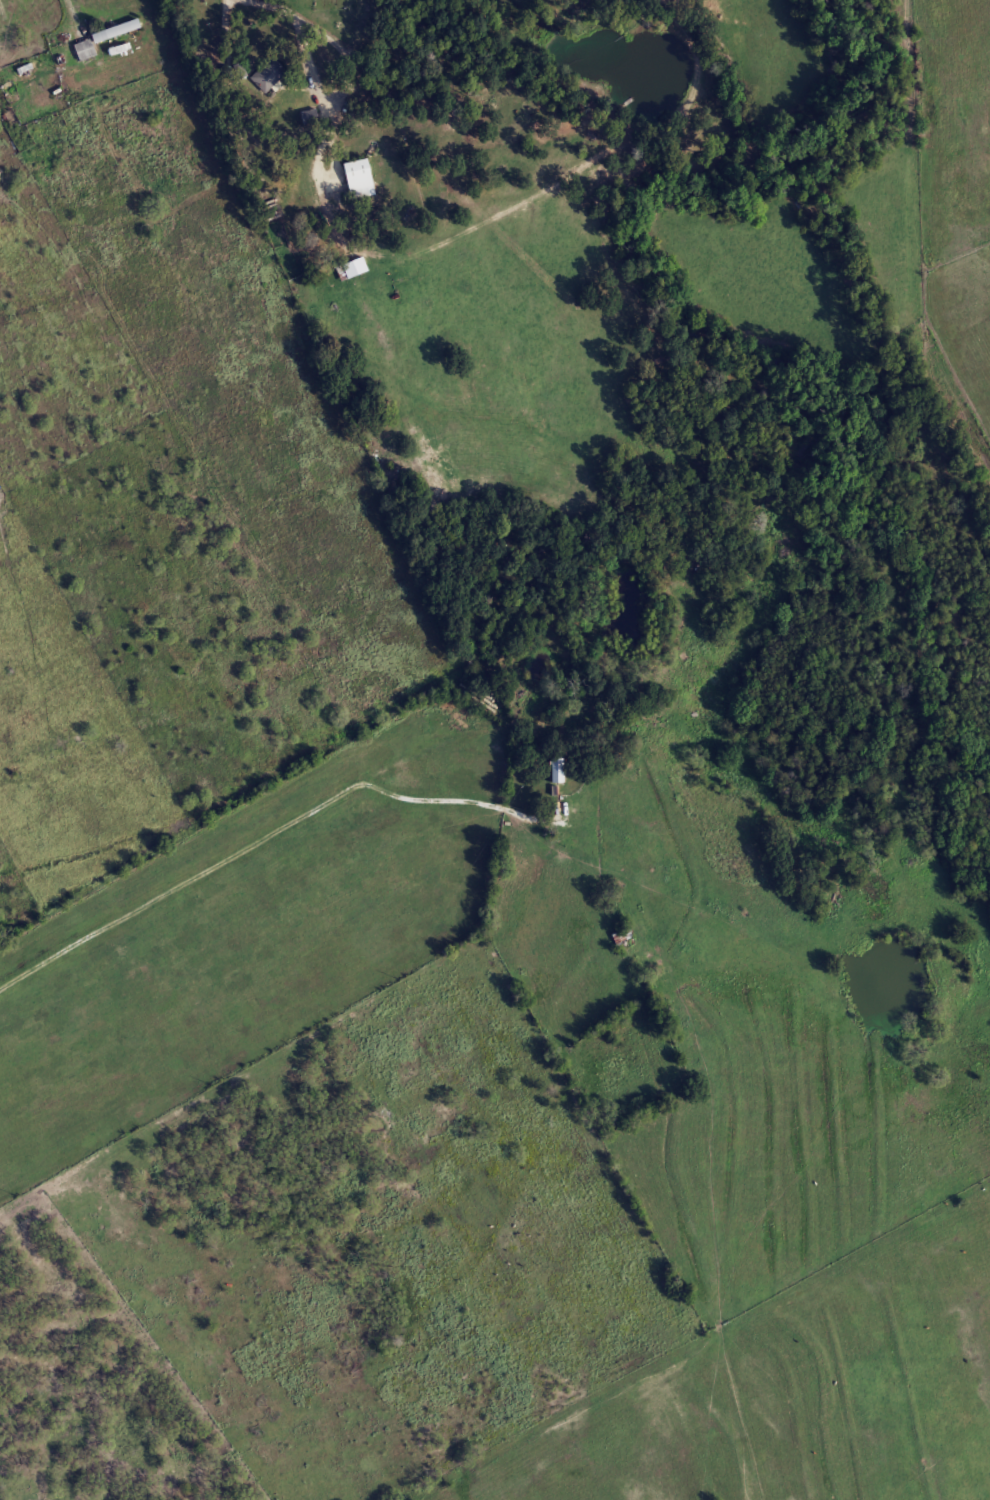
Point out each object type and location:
road: (279, 5)
building: (114, 30)
building: (82, 49)
building: (120, 50)
road: (346, 60)
building: (266, 75)
building: (310, 117)
building: (356, 178)
building: (559, 770)
road: (359, 780)
building: (620, 937)

